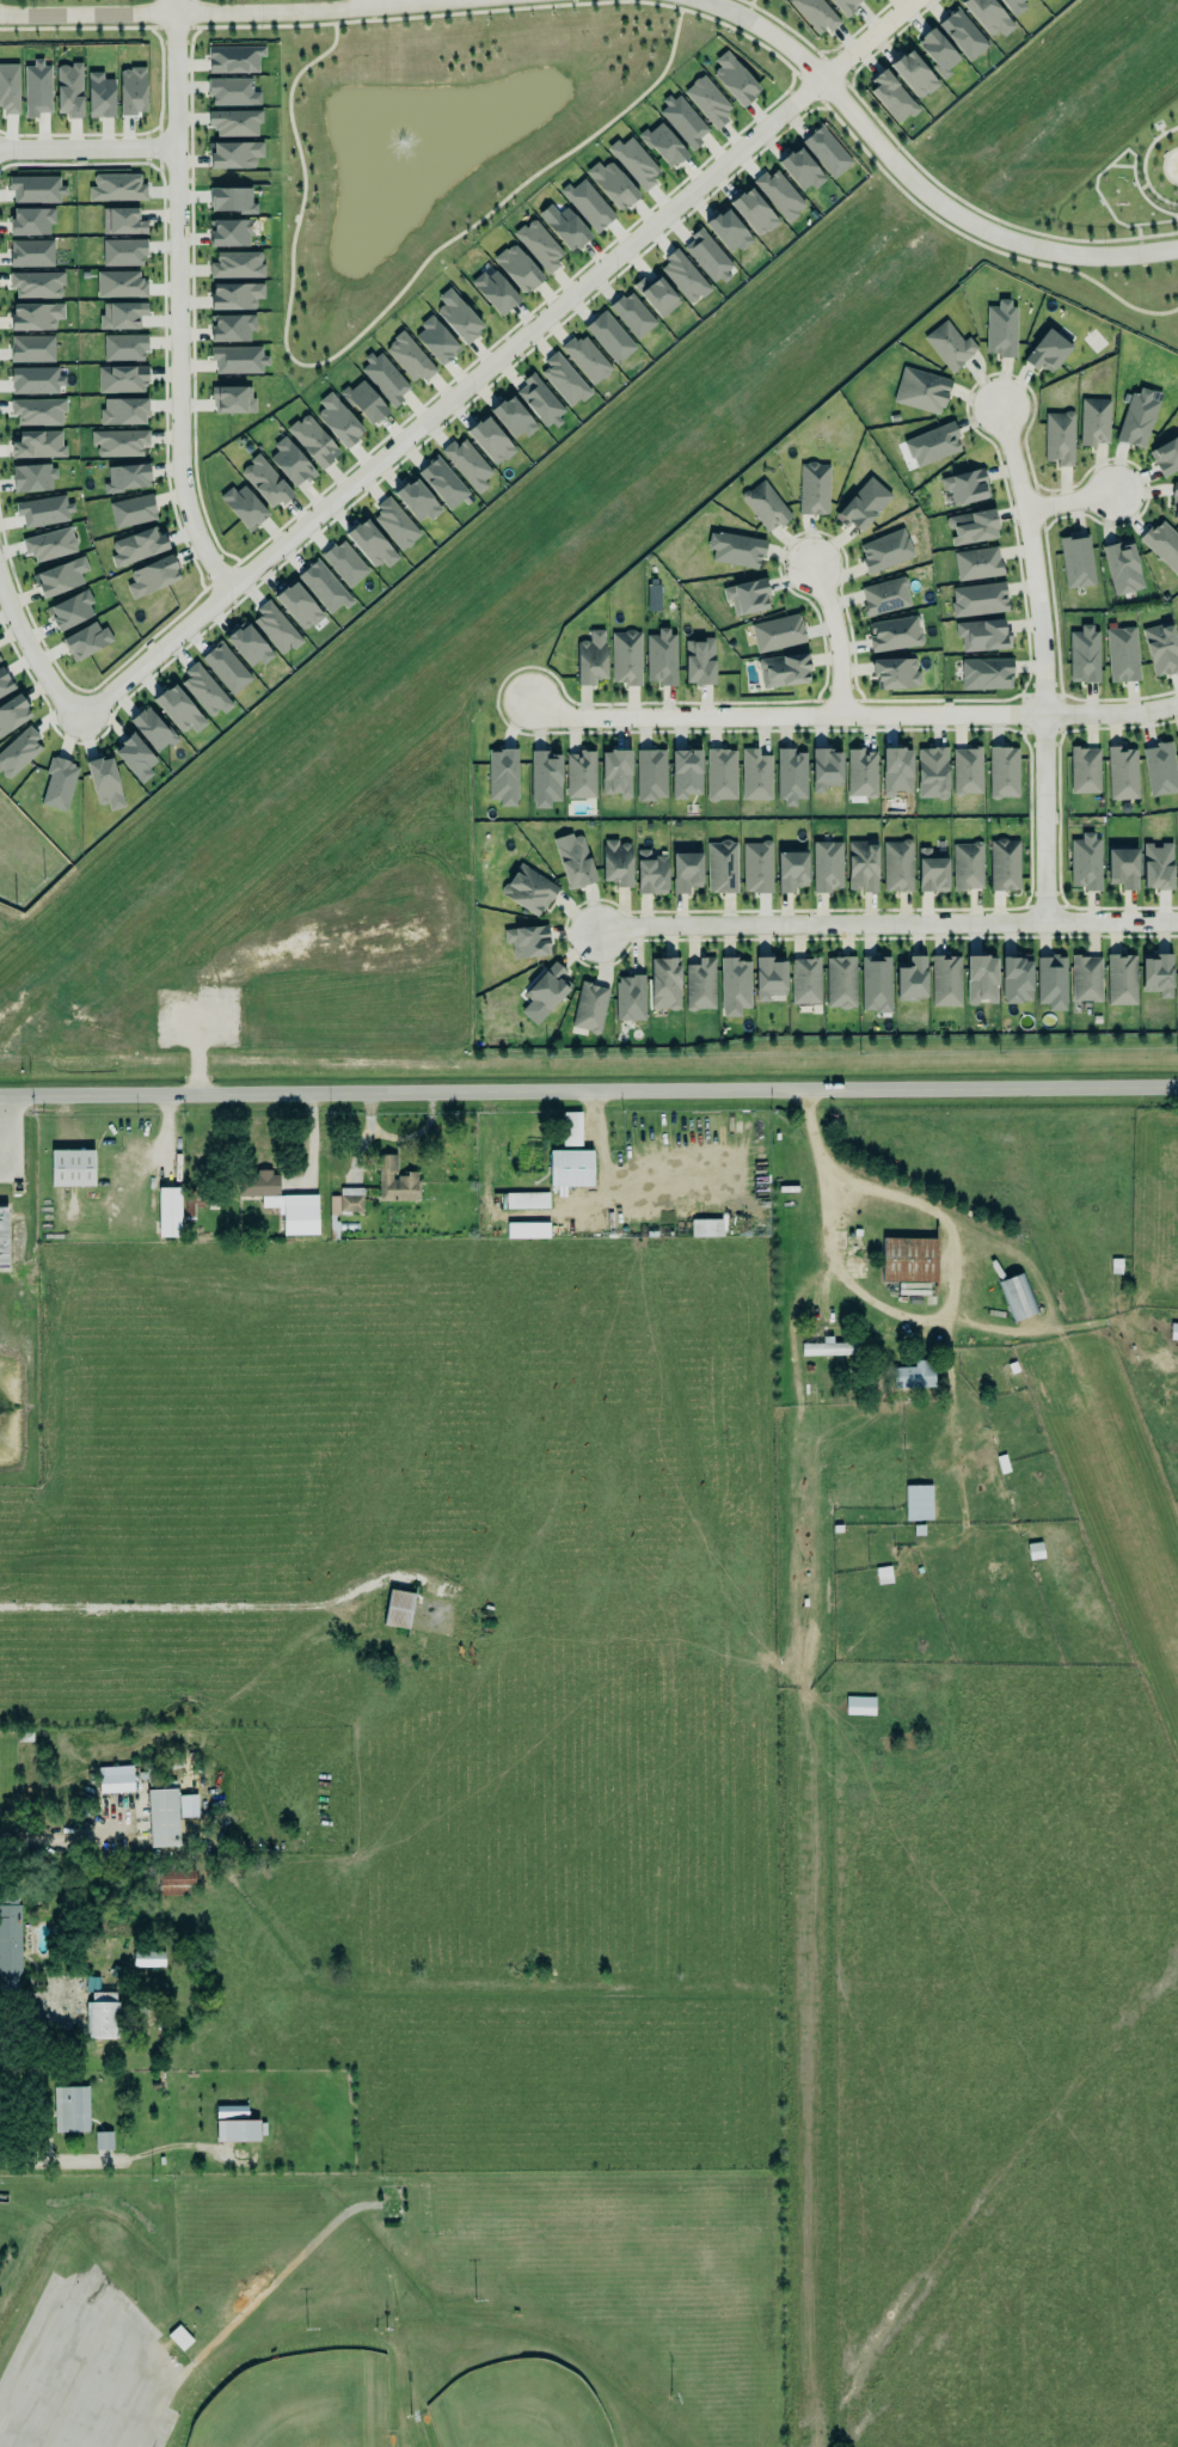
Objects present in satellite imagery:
building: (1041, 0)
building: (845, 5)
building: (1014, 6)
building: (814, 12)
road: (183, 13)
building: (987, 16)
building: (963, 33)
building: (938, 49)
building: (234, 59)
building: (914, 74)
building: (735, 79)
building: (68, 87)
building: (10, 88)
building: (37, 90)
building: (231, 90)
building: (133, 91)
building: (99, 93)
building: (892, 93)
building: (707, 100)
building: (682, 121)
building: (233, 122)
building: (662, 141)
road: (88, 149)
building: (826, 149)
building: (232, 151)
building: (634, 161)
building: (800, 169)
road: (914, 182)
building: (612, 184)
building: (115, 185)
building: (36, 189)
building: (779, 194)
building: (231, 200)
building: (587, 202)
building: (754, 212)
building: (30, 218)
building: (122, 221)
building: (566, 225)
building: (228, 227)
building: (728, 231)
building: (540, 244)
building: (30, 252)
building: (123, 252)
building: (707, 255)
building: (237, 265)
building: (517, 268)
building: (682, 275)
building: (118, 281)
building: (35, 283)
building: (495, 289)
building: (656, 292)
building: (234, 293)
road: (177, 300)
building: (33, 312)
building: (632, 314)
building: (122, 316)
building: (459, 318)
building: (232, 328)
building: (999, 328)
building: (611, 337)
building: (436, 341)
building: (947, 344)
building: (123, 345)
building: (32, 349)
building: (1045, 350)
building: (409, 357)
building: (587, 359)
building: (238, 360)
building: (385, 378)
building: (33, 379)
building: (122, 379)
building: (564, 380)
building: (921, 391)
building: (539, 398)
building: (233, 399)
building: (364, 402)
road: (437, 409)
building: (38, 411)
building: (123, 411)
building: (511, 415)
building: (1136, 420)
building: (338, 421)
building: (1094, 422)
building: (1059, 438)
building: (313, 441)
building: (490, 441)
building: (119, 442)
building: (929, 442)
building: (38, 445)
building: (1166, 455)
building: (290, 463)
building: (467, 464)
building: (125, 475)
building: (33, 478)
building: (265, 482)
building: (443, 482)
building: (812, 487)
building: (965, 487)
building: (1173, 498)
building: (417, 501)
road: (1069, 501)
building: (861, 502)
building: (244, 503)
building: (765, 506)
building: (44, 510)
building: (133, 510)
building: (394, 520)
building: (970, 525)
building: (1161, 543)
building: (49, 544)
building: (370, 544)
building: (136, 545)
building: (734, 547)
building: (884, 549)
building: (1075, 559)
building: (344, 561)
building: (976, 562)
building: (1121, 565)
building: (61, 574)
building: (152, 574)
building: (324, 586)
building: (744, 594)
building: (883, 594)
building: (654, 598)
building: (976, 598)
building: (299, 604)
building: (70, 611)
building: (1177, 620)
building: (274, 628)
building: (774, 630)
building: (981, 631)
building: (894, 632)
road: (835, 637)
building: (86, 641)
building: (249, 643)
building: (1161, 649)
building: (1121, 653)
building: (590, 654)
building: (1084, 654)
building: (625, 656)
building: (661, 656)
building: (699, 662)
road: (1042, 662)
building: (226, 668)
building: (785, 669)
building: (894, 671)
building: (984, 672)
building: (5, 681)
building: (204, 692)
building: (178, 708)
building: (12, 714)
road: (852, 715)
building: (152, 729)
building: (1177, 740)
building: (18, 753)
building: (135, 758)
building: (615, 769)
building: (826, 769)
building: (965, 769)
building: (1082, 769)
building: (1158, 769)
building: (859, 771)
building: (896, 771)
building: (1002, 771)
building: (719, 772)
building: (929, 772)
building: (579, 773)
building: (686, 773)
building: (1122, 773)
building: (501, 775)
building: (651, 775)
building: (756, 775)
building: (789, 775)
building: (544, 776)
building: (105, 783)
building: (59, 784)
building: (1177, 859)
building: (1084, 861)
building: (573, 862)
building: (614, 862)
building: (965, 863)
building: (1001, 863)
building: (755, 864)
building: (895, 864)
building: (720, 865)
building: (827, 865)
building: (863, 867)
building: (1121, 867)
building: (1158, 867)
building: (683, 870)
building: (789, 870)
building: (649, 871)
building: (932, 871)
building: (527, 888)
road: (886, 923)
building: (528, 941)
building: (1156, 975)
building: (767, 977)
building: (978, 978)
building: (1013, 978)
building: (1118, 978)
building: (803, 979)
building: (909, 979)
building: (1086, 979)
building: (1177, 979)
building: (839, 980)
building: (663, 981)
building: (873, 981)
building: (945, 981)
building: (1049, 981)
building: (699, 983)
building: (735, 986)
building: (542, 992)
building: (628, 997)
building: (589, 1005)
road: (589, 1091)
road: (1, 1109)
building: (571, 1128)
building: (72, 1168)
building: (571, 1168)
building: (393, 1181)
building: (192, 1200)
building: (527, 1200)
building: (346, 1201)
building: (170, 1212)
building: (297, 1213)
building: (706, 1228)
building: (527, 1230)
building: (4, 1237)
building: (909, 1260)
building: (916, 1289)
building: (1018, 1297)
road: (896, 1317)
building: (1173, 1332)
building: (828, 1348)
building: (914, 1375)
building: (918, 1503)
building: (1035, 1550)
road: (219, 1609)
building: (398, 1609)
building: (860, 1705)
building: (116, 1779)
building: (159, 1809)
road: (53, 1840)
building: (176, 1883)
building: (10, 1939)
building: (148, 1958)
building: (103, 2015)
road: (37, 2018)
building: (69, 2108)
building: (237, 2130)
road: (118, 2157)
park: (394, 2310)
road: (43, 2335)
road: (135, 2344)
road: (60, 2378)
parking lot: (97, 2386)
road: (100, 2394)
park: (300, 2404)
park: (517, 2409)
road: (146, 2410)

